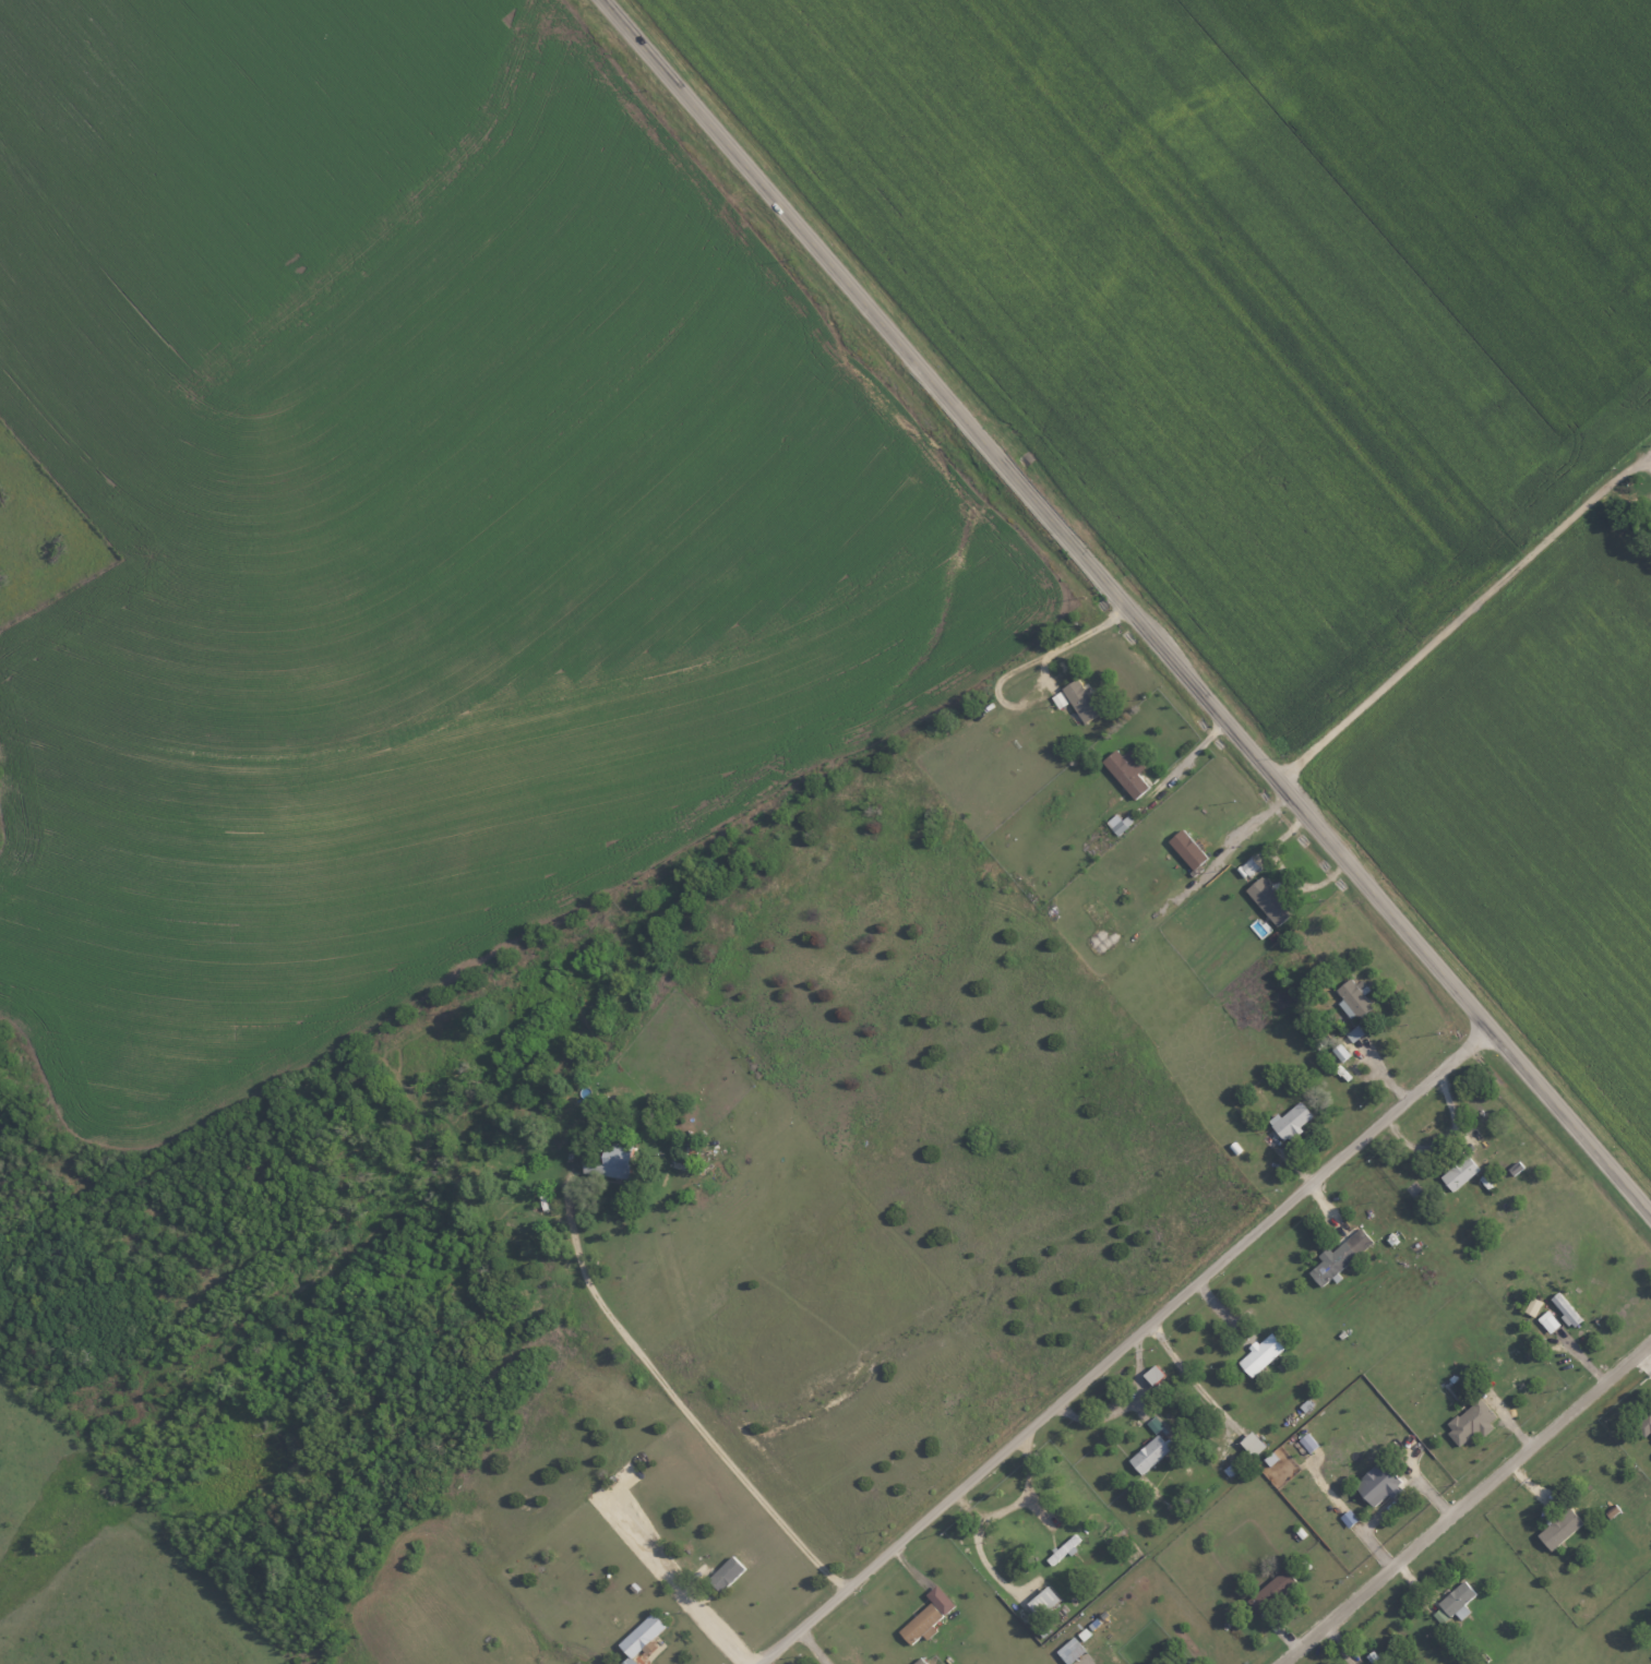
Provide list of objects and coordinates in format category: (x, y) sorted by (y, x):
road: (1127, 606)
road: (1461, 618)
road: (1073, 641)
building: (1058, 699)
building: (1079, 701)
building: (1125, 771)
road: (1245, 829)
building: (1186, 849)
building: (1248, 866)
building: (1268, 901)
building: (1351, 997)
building: (1353, 1032)
building: (1339, 1052)
building: (1289, 1122)
building: (610, 1162)
building: (1459, 1173)
building: (1339, 1256)
building: (1531, 1306)
building: (1564, 1309)
building: (1547, 1321)
road: (1124, 1346)
building: (1259, 1354)
building: (1151, 1375)
road: (682, 1405)
building: (1470, 1421)
building: (1648, 1426)
building: (1306, 1442)
building: (1252, 1444)
building: (1148, 1453)
building: (1269, 1459)
building: (1234, 1465)
building: (1378, 1484)
road: (1465, 1501)
building: (1559, 1529)
building: (725, 1572)
building: (1270, 1592)
building: (938, 1600)
building: (1042, 1601)
building: (1453, 1603)
road: (693, 1607)
building: (920, 1625)
building: (639, 1636)
building: (1069, 1651)
building: (1184, 1662)

